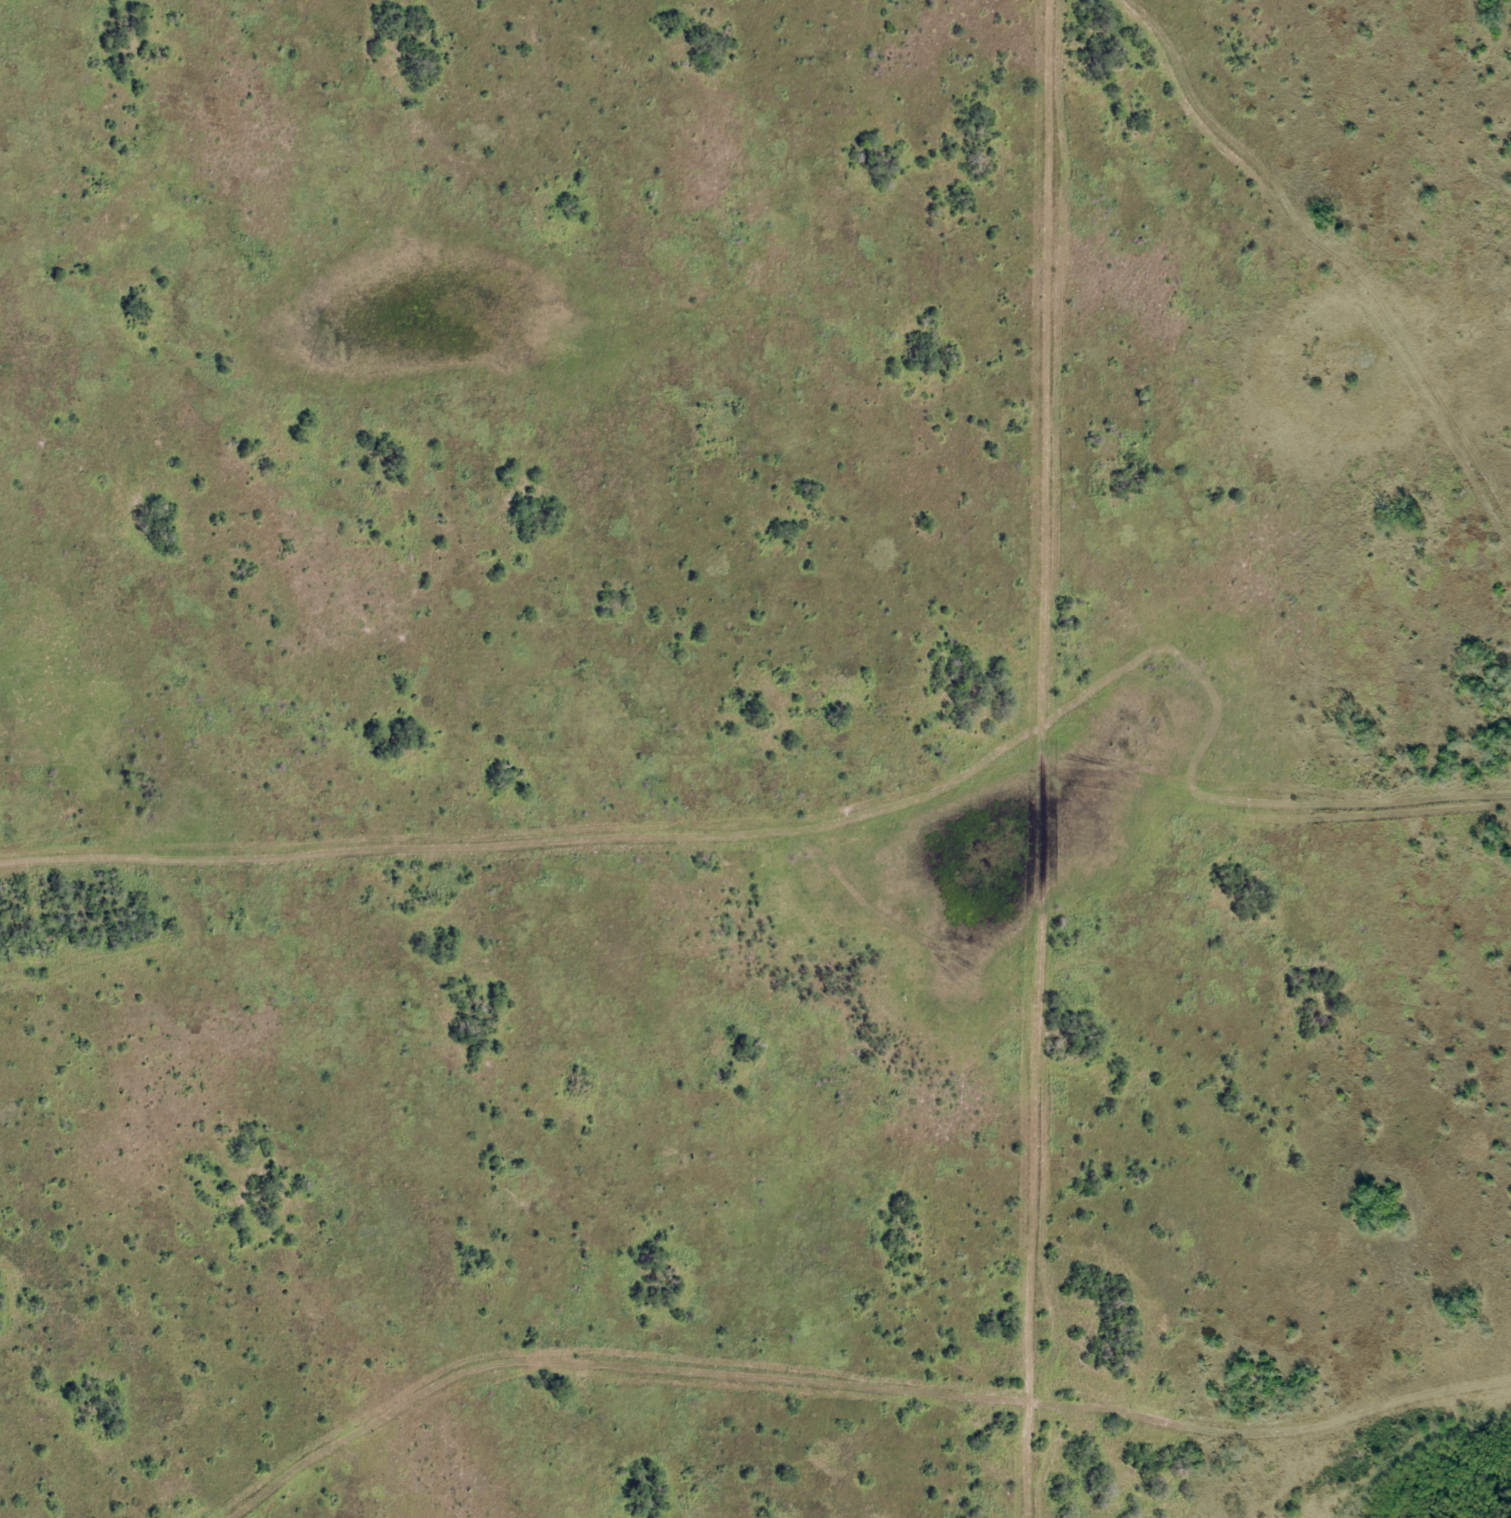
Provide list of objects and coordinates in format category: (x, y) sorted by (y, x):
road: (1335, 232)
road: (1008, 759)

